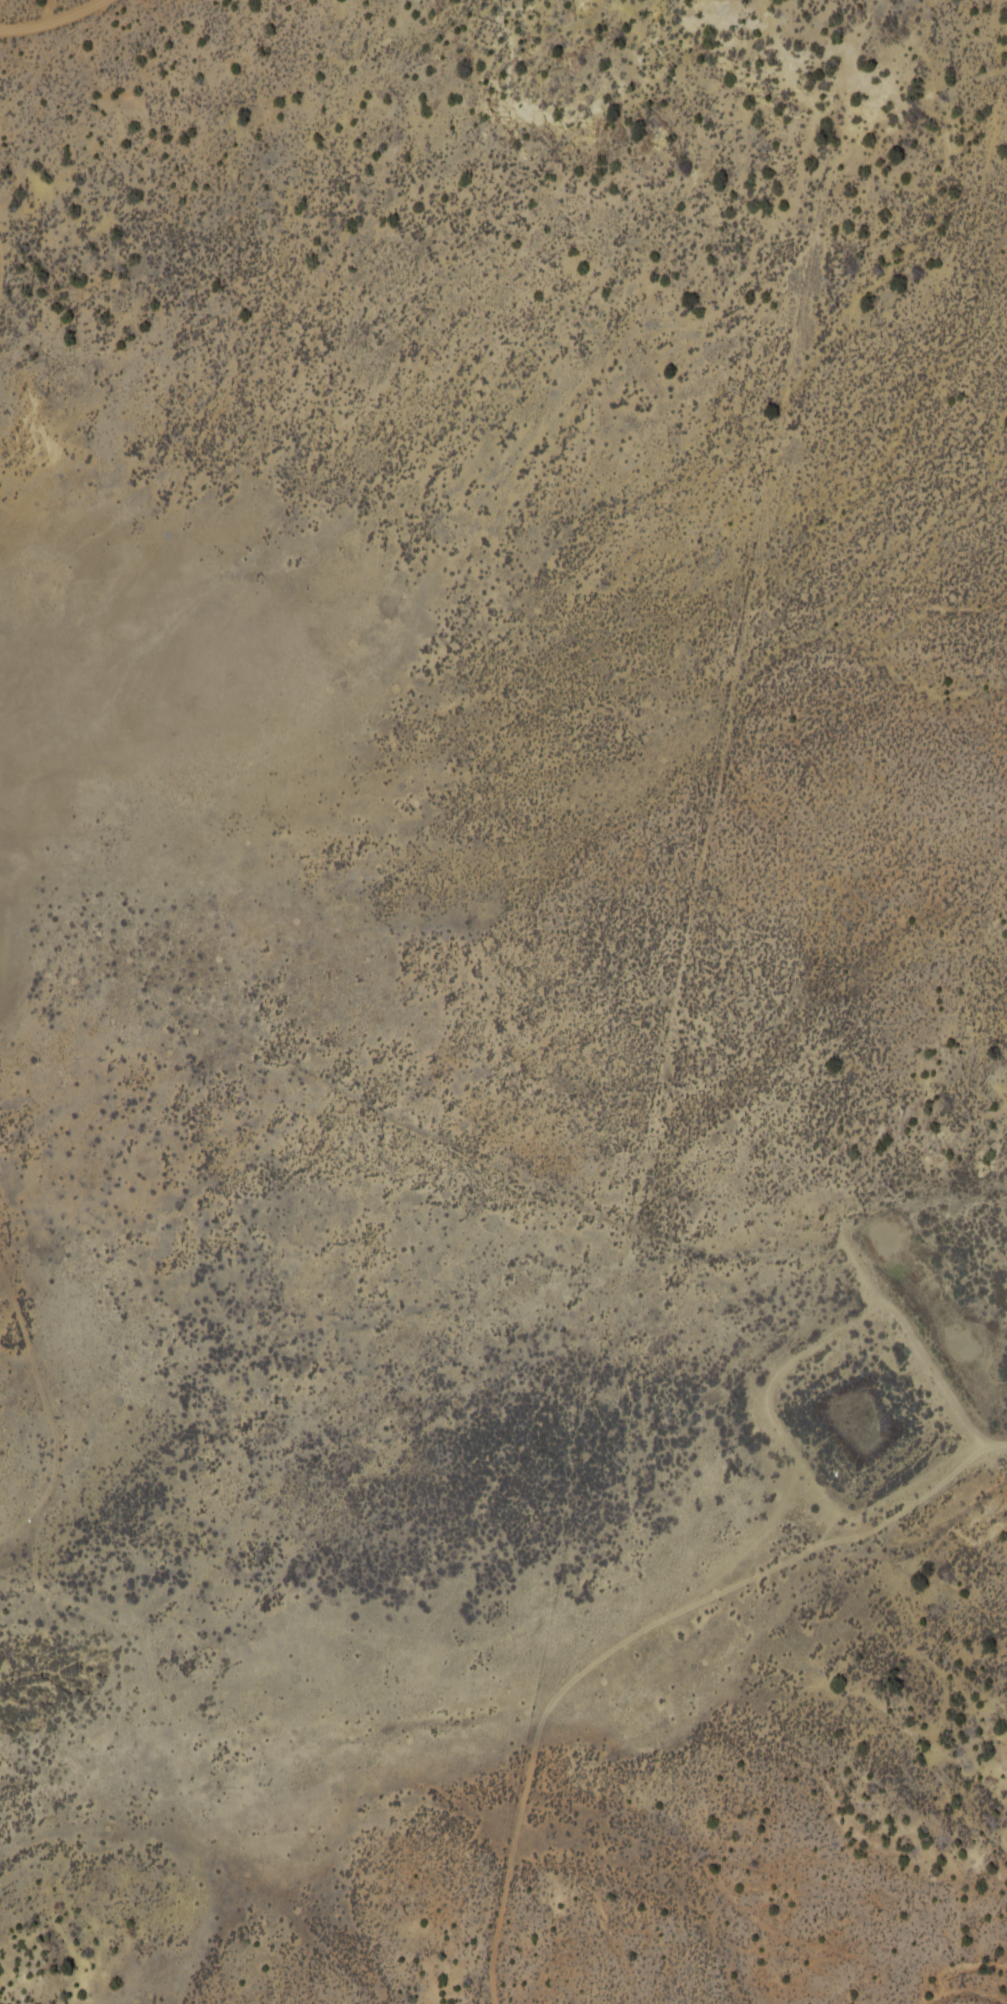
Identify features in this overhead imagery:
road: (51, 20)

